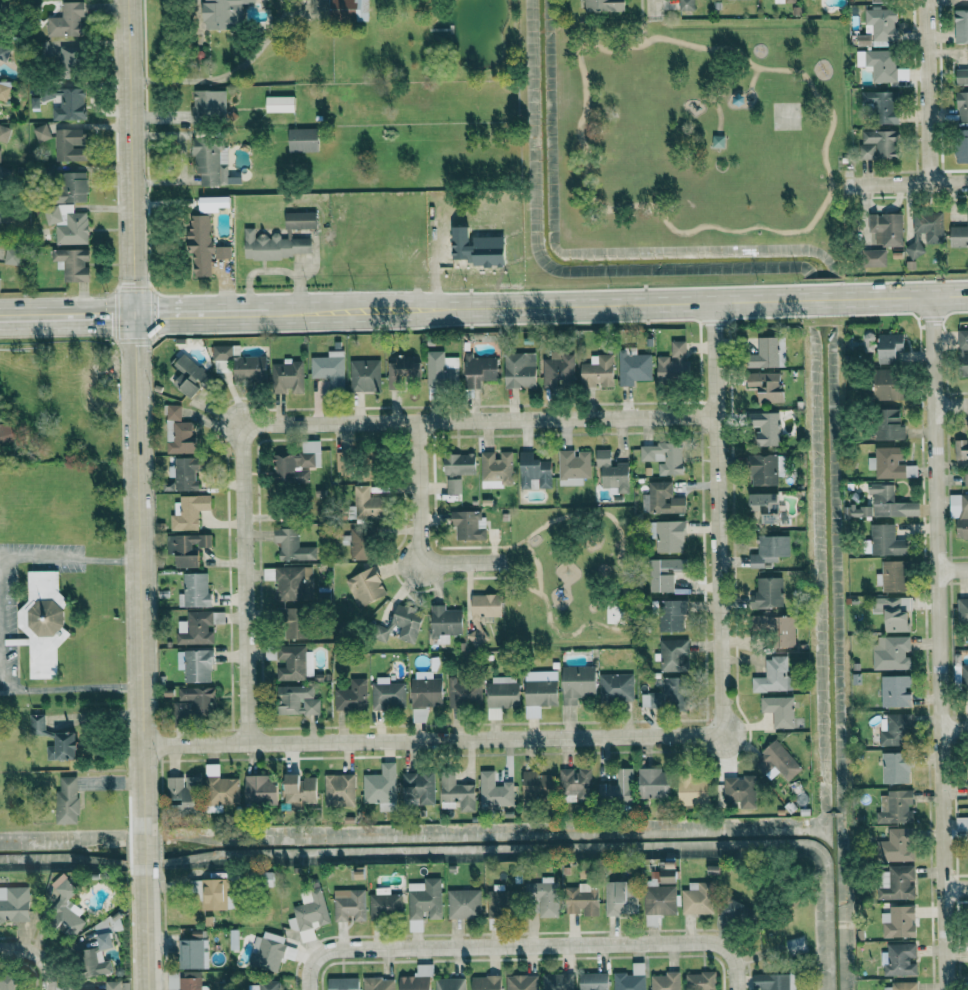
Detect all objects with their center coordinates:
building: (784, 1)
building: (880, 1)
building: (687, 5)
building: (603, 6)
building: (347, 9)
road: (651, 10)
building: (223, 12)
building: (66, 21)
building: (960, 26)
road: (641, 27)
building: (878, 27)
road: (187, 44)
building: (44, 49)
building: (2, 51)
building: (71, 60)
building: (877, 64)
building: (962, 74)
road: (716, 78)
road: (753, 78)
road: (211, 79)
building: (4, 91)
road: (927, 91)
building: (34, 102)
building: (279, 104)
building: (70, 105)
building: (881, 105)
building: (208, 106)
building: (962, 106)
road: (718, 114)
park: (786, 116)
park: (700, 131)
building: (4, 133)
building: (40, 133)
building: (302, 140)
building: (877, 144)
building: (70, 145)
building: (961, 145)
building: (210, 160)
road: (904, 183)
road: (836, 185)
building: (73, 187)
building: (212, 203)
building: (66, 224)
building: (885, 228)
road: (803, 230)
building: (925, 231)
building: (959, 235)
building: (279, 239)
building: (199, 244)
building: (222, 252)
building: (10, 256)
building: (873, 258)
building: (71, 264)
road: (550, 303)
road: (83, 315)
road: (16, 316)
building: (890, 347)
building: (963, 352)
building: (767, 354)
building: (672, 363)
building: (239, 366)
building: (633, 367)
building: (329, 368)
building: (441, 369)
building: (559, 369)
building: (479, 370)
building: (520, 370)
building: (401, 371)
building: (597, 372)
building: (189, 376)
building: (364, 376)
building: (287, 378)
building: (886, 385)
building: (766, 386)
road: (951, 403)
road: (481, 420)
building: (888, 424)
building: (766, 428)
building: (178, 432)
building: (5, 433)
building: (961, 449)
building: (664, 457)
building: (297, 464)
building: (890, 464)
building: (343, 467)
building: (458, 467)
building: (496, 467)
building: (572, 467)
building: (534, 472)
building: (184, 473)
building: (612, 473)
road: (138, 495)
building: (661, 499)
building: (890, 503)
building: (367, 504)
building: (765, 506)
building: (858, 511)
building: (187, 512)
road: (717, 515)
building: (467, 525)
road: (418, 531)
building: (667, 536)
building: (886, 541)
building: (361, 544)
building: (292, 546)
building: (186, 548)
building: (769, 550)
road: (69, 559)
road: (953, 569)
building: (664, 574)
building: (893, 577)
park: (570, 578)
building: (291, 582)
road: (244, 585)
building: (364, 587)
building: (194, 591)
building: (768, 592)
building: (962, 611)
building: (893, 613)
building: (483, 614)
park: (614, 614)
building: (672, 615)
building: (42, 623)
building: (293, 623)
building: (444, 623)
building: (400, 625)
building: (195, 628)
building: (778, 628)
road: (939, 642)
building: (890, 653)
building: (673, 656)
building: (294, 663)
building: (195, 665)
building: (773, 676)
building: (577, 683)
building: (616, 688)
road: (58, 689)
building: (894, 691)
building: (463, 693)
building: (387, 694)
building: (424, 694)
building: (539, 694)
building: (501, 695)
building: (667, 695)
building: (351, 696)
building: (297, 701)
building: (194, 703)
building: (778, 711)
building: (36, 724)
road: (954, 728)
building: (893, 730)
road: (432, 740)
building: (62, 747)
building: (776, 760)
building: (895, 768)
building: (538, 784)
building: (654, 784)
building: (576, 785)
building: (380, 787)
building: (967, 787)
building: (220, 788)
building: (418, 788)
building: (618, 788)
building: (299, 790)
building: (339, 790)
building: (261, 791)
building: (493, 791)
building: (740, 791)
building: (181, 792)
building: (694, 792)
building: (456, 794)
building: (66, 801)
building: (895, 808)
building: (961, 824)
building: (895, 846)
building: (667, 875)
building: (896, 883)
road: (955, 886)
building: (214, 893)
building: (543, 895)
building: (620, 897)
building: (659, 898)
building: (697, 898)
building: (424, 899)
building: (582, 899)
building: (500, 902)
building: (14, 903)
building: (384, 903)
building: (463, 903)
building: (349, 904)
building: (65, 908)
building: (739, 911)
building: (308, 913)
building: (898, 923)
building: (795, 945)
building: (98, 948)
road: (528, 948)
building: (270, 951)
road: (38, 952)
building: (193, 954)
building: (899, 959)
building: (630, 978)
building: (416, 979)
building: (183, 980)
building: (699, 980)
building: (557, 981)
building: (593, 981)
building: (665, 981)
building: (774, 981)
building: (485, 982)
building: (520, 982)
building: (6, 983)
building: (342, 983)
building: (378, 983)
building: (449, 983)
building: (112, 985)
building: (267, 985)
road: (736, 986)
building: (902, 986)
building: (18, 989)

